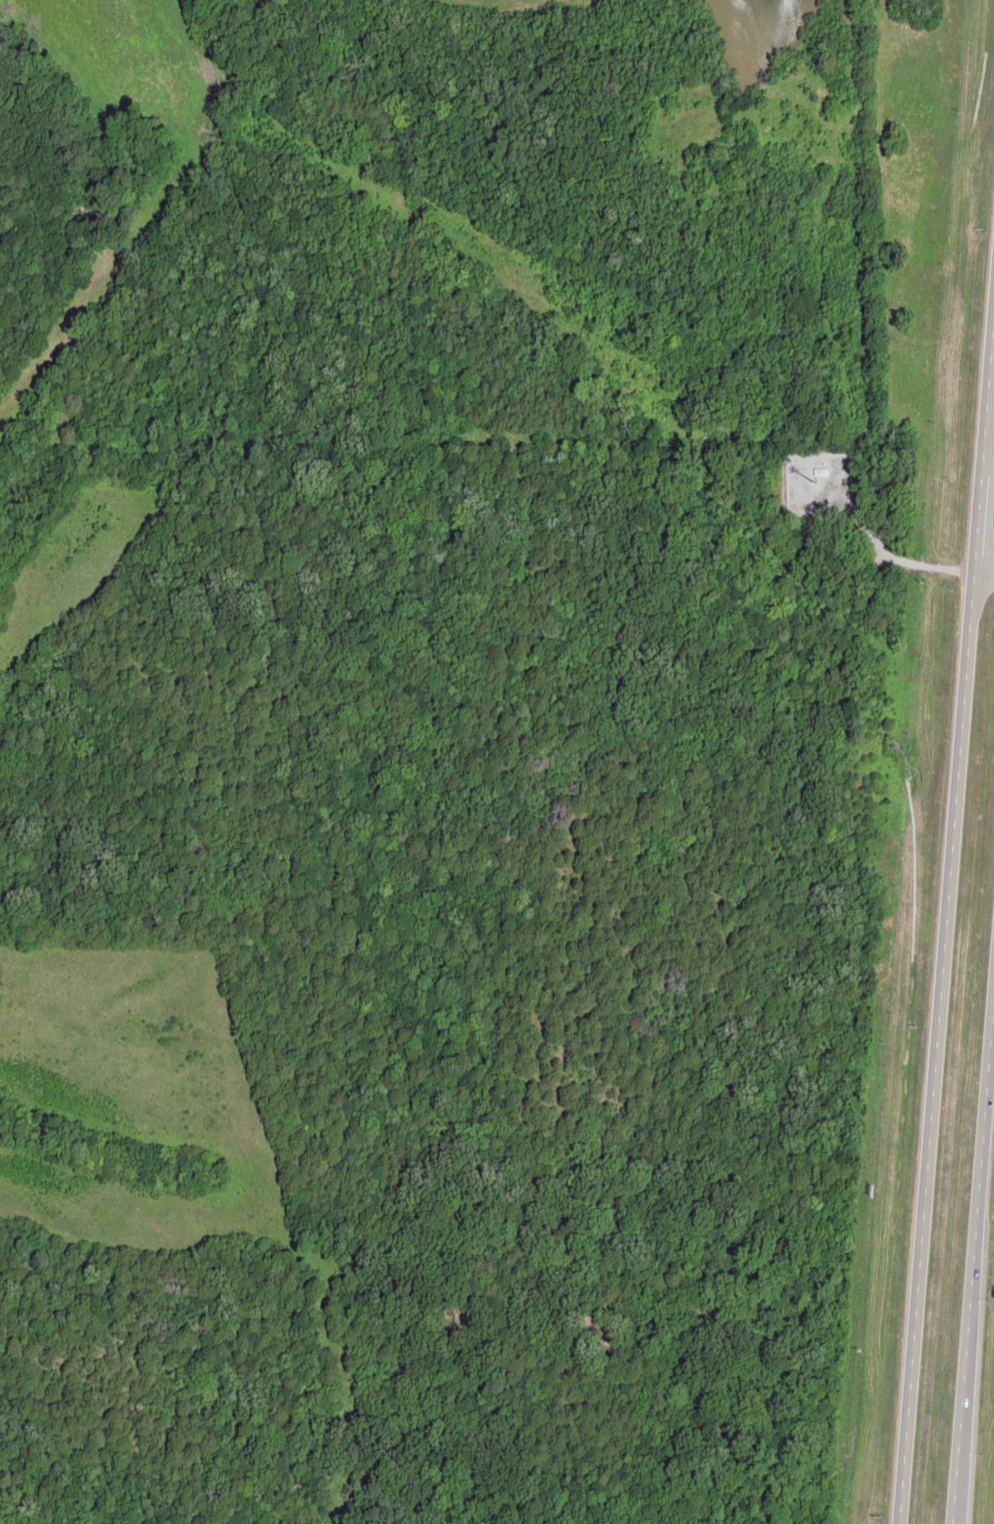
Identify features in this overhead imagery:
road: (944, 912)
road: (975, 1239)

